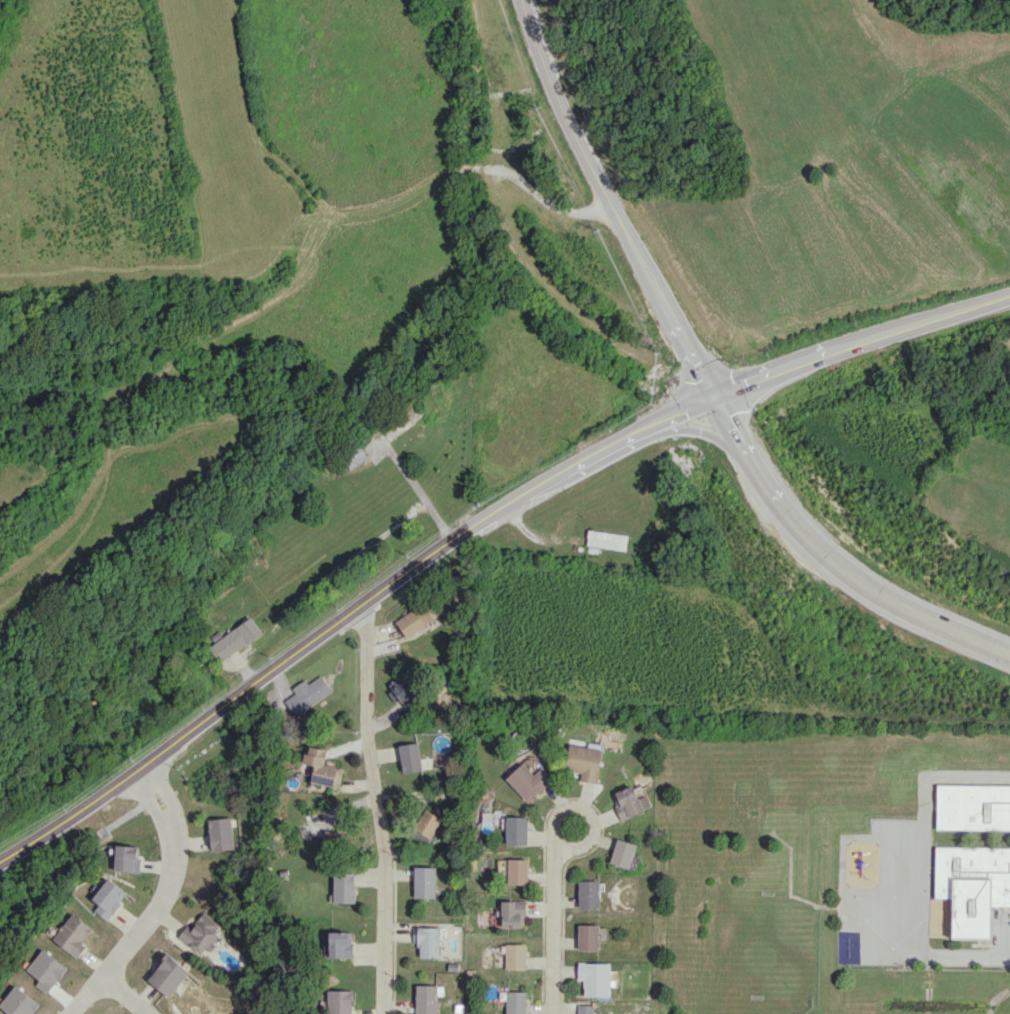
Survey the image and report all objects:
road: (612, 200)
road: (860, 340)
building: (354, 457)
road: (416, 490)
building: (606, 540)
road: (832, 558)
road: (347, 613)
building: (414, 621)
building: (234, 639)
building: (401, 691)
building: (308, 693)
building: (409, 757)
building: (584, 761)
building: (532, 764)
building: (322, 767)
road: (935, 775)
building: (529, 781)
building: (629, 802)
building: (973, 807)
road: (378, 809)
building: (491, 820)
building: (427, 823)
building: (516, 830)
building: (220, 834)
road: (584, 846)
building: (622, 853)
building: (127, 858)
building: (517, 871)
building: (424, 882)
building: (971, 886)
building: (344, 887)
building: (588, 894)
building: (108, 898)
road: (158, 900)
building: (512, 913)
road: (553, 931)
building: (72, 935)
building: (199, 935)
building: (588, 937)
building: (427, 941)
road: (898, 942)
building: (340, 944)
building: (515, 956)
building: (167, 974)
building: (594, 978)
road: (124, 993)
building: (426, 999)
building: (339, 1002)
building: (516, 1002)
building: (586, 1009)

